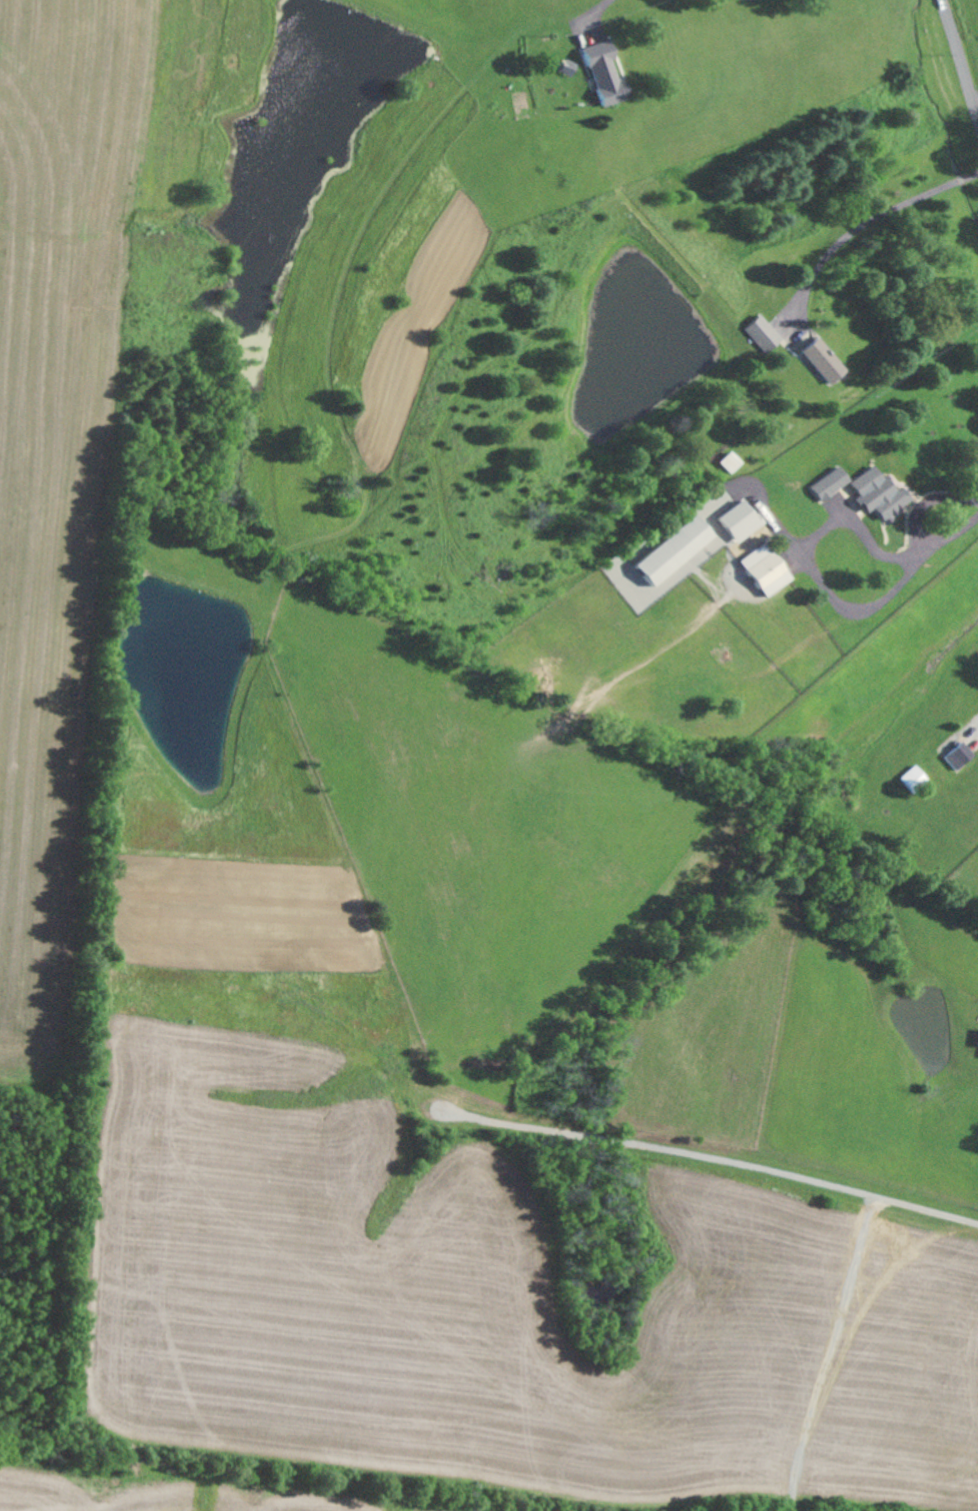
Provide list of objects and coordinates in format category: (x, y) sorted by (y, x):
road: (761, 0)
road: (601, 12)
road: (960, 57)
building: (601, 74)
road: (975, 99)
road: (869, 224)
building: (758, 333)
building: (817, 359)
building: (727, 462)
building: (824, 483)
building: (873, 493)
building: (733, 521)
road: (947, 539)
road: (647, 543)
building: (666, 550)
road: (811, 569)
building: (758, 571)
building: (957, 755)
building: (976, 1038)

